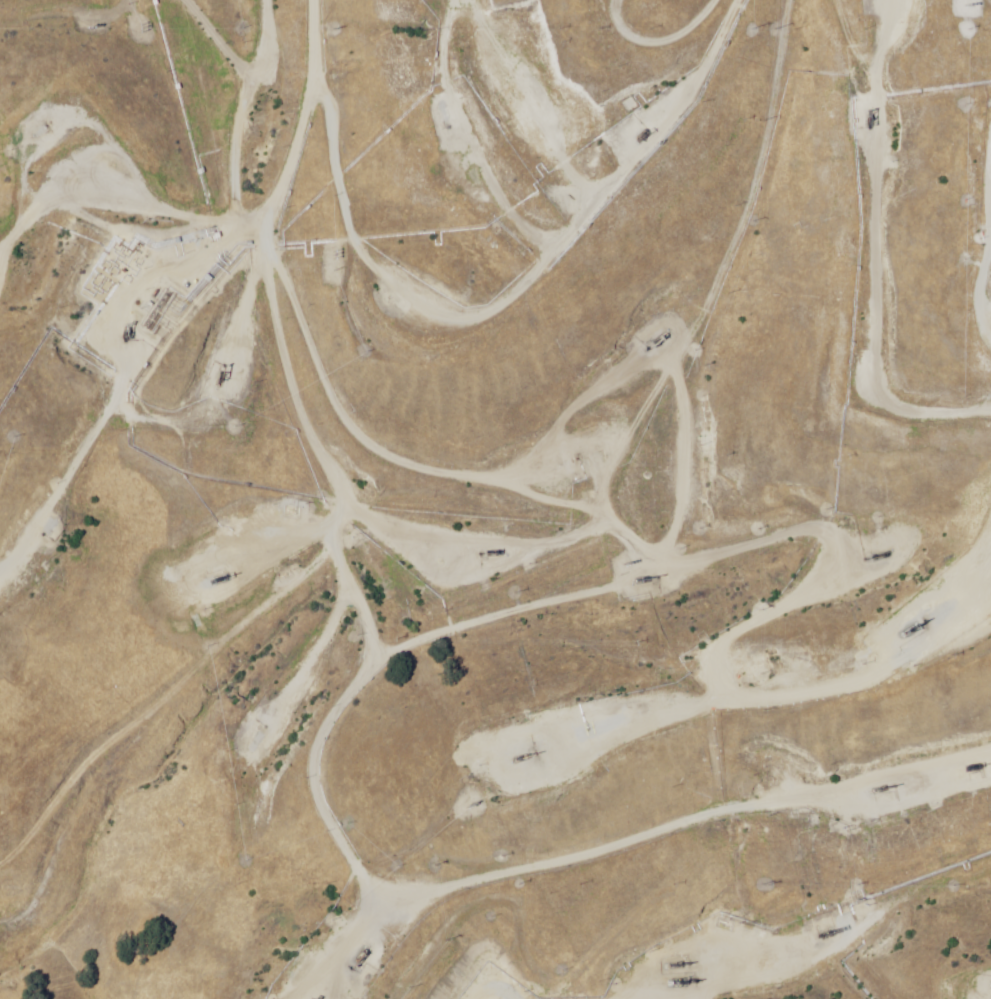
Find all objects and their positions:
road: (583, 1)
road: (252, 13)
road: (620, 24)
road: (955, 92)
road: (584, 138)
road: (980, 175)
road: (193, 183)
road: (868, 240)
road: (442, 297)
road: (122, 300)
road: (982, 315)
road: (50, 376)
road: (272, 394)
road: (278, 487)
road: (232, 576)
road: (491, 608)
road: (647, 845)

